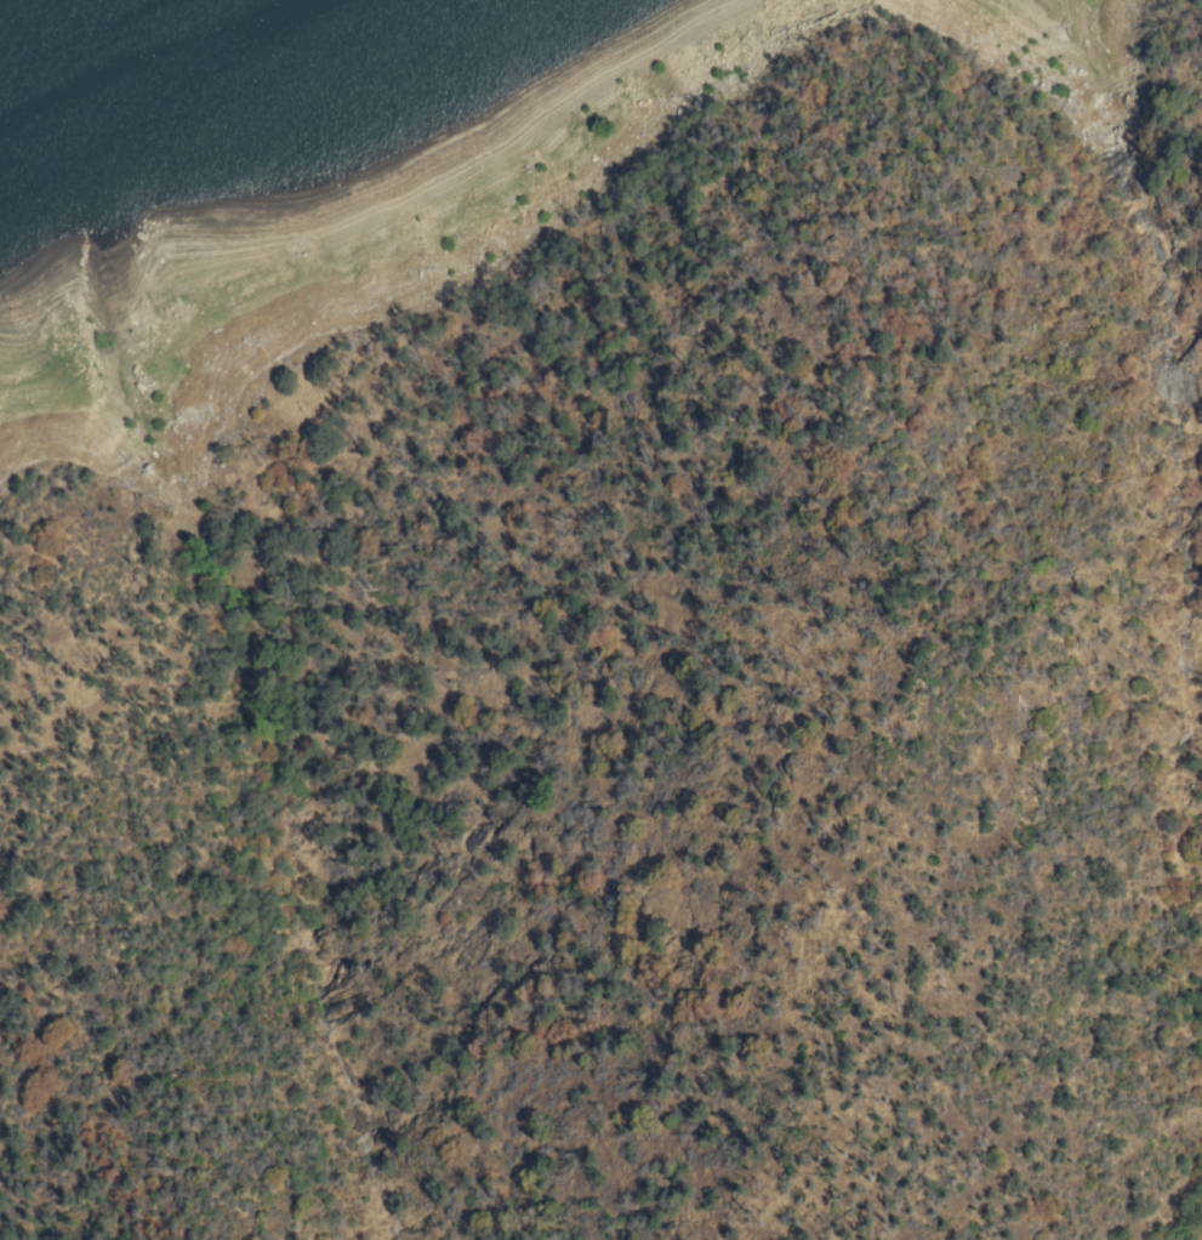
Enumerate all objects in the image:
river: (292, 74)
river: (89, 190)

